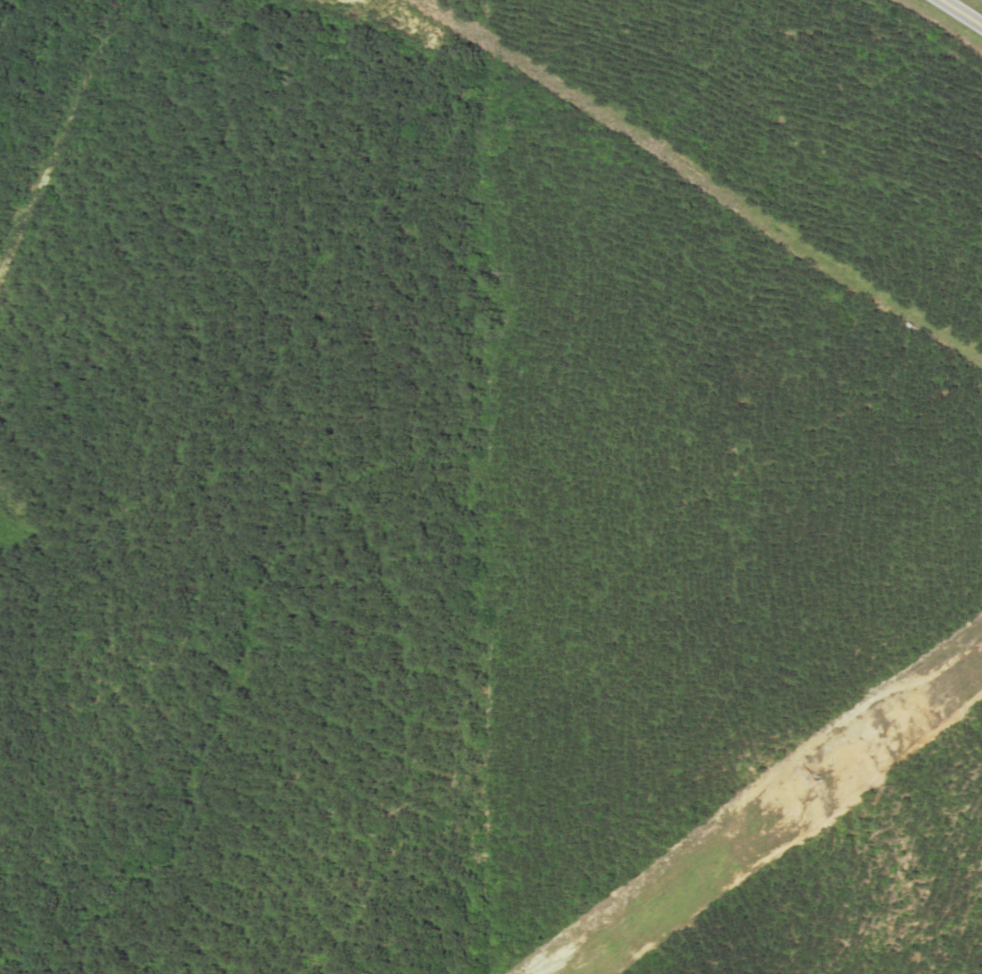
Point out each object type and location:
road: (959, 15)
power tower: (822, 780)

